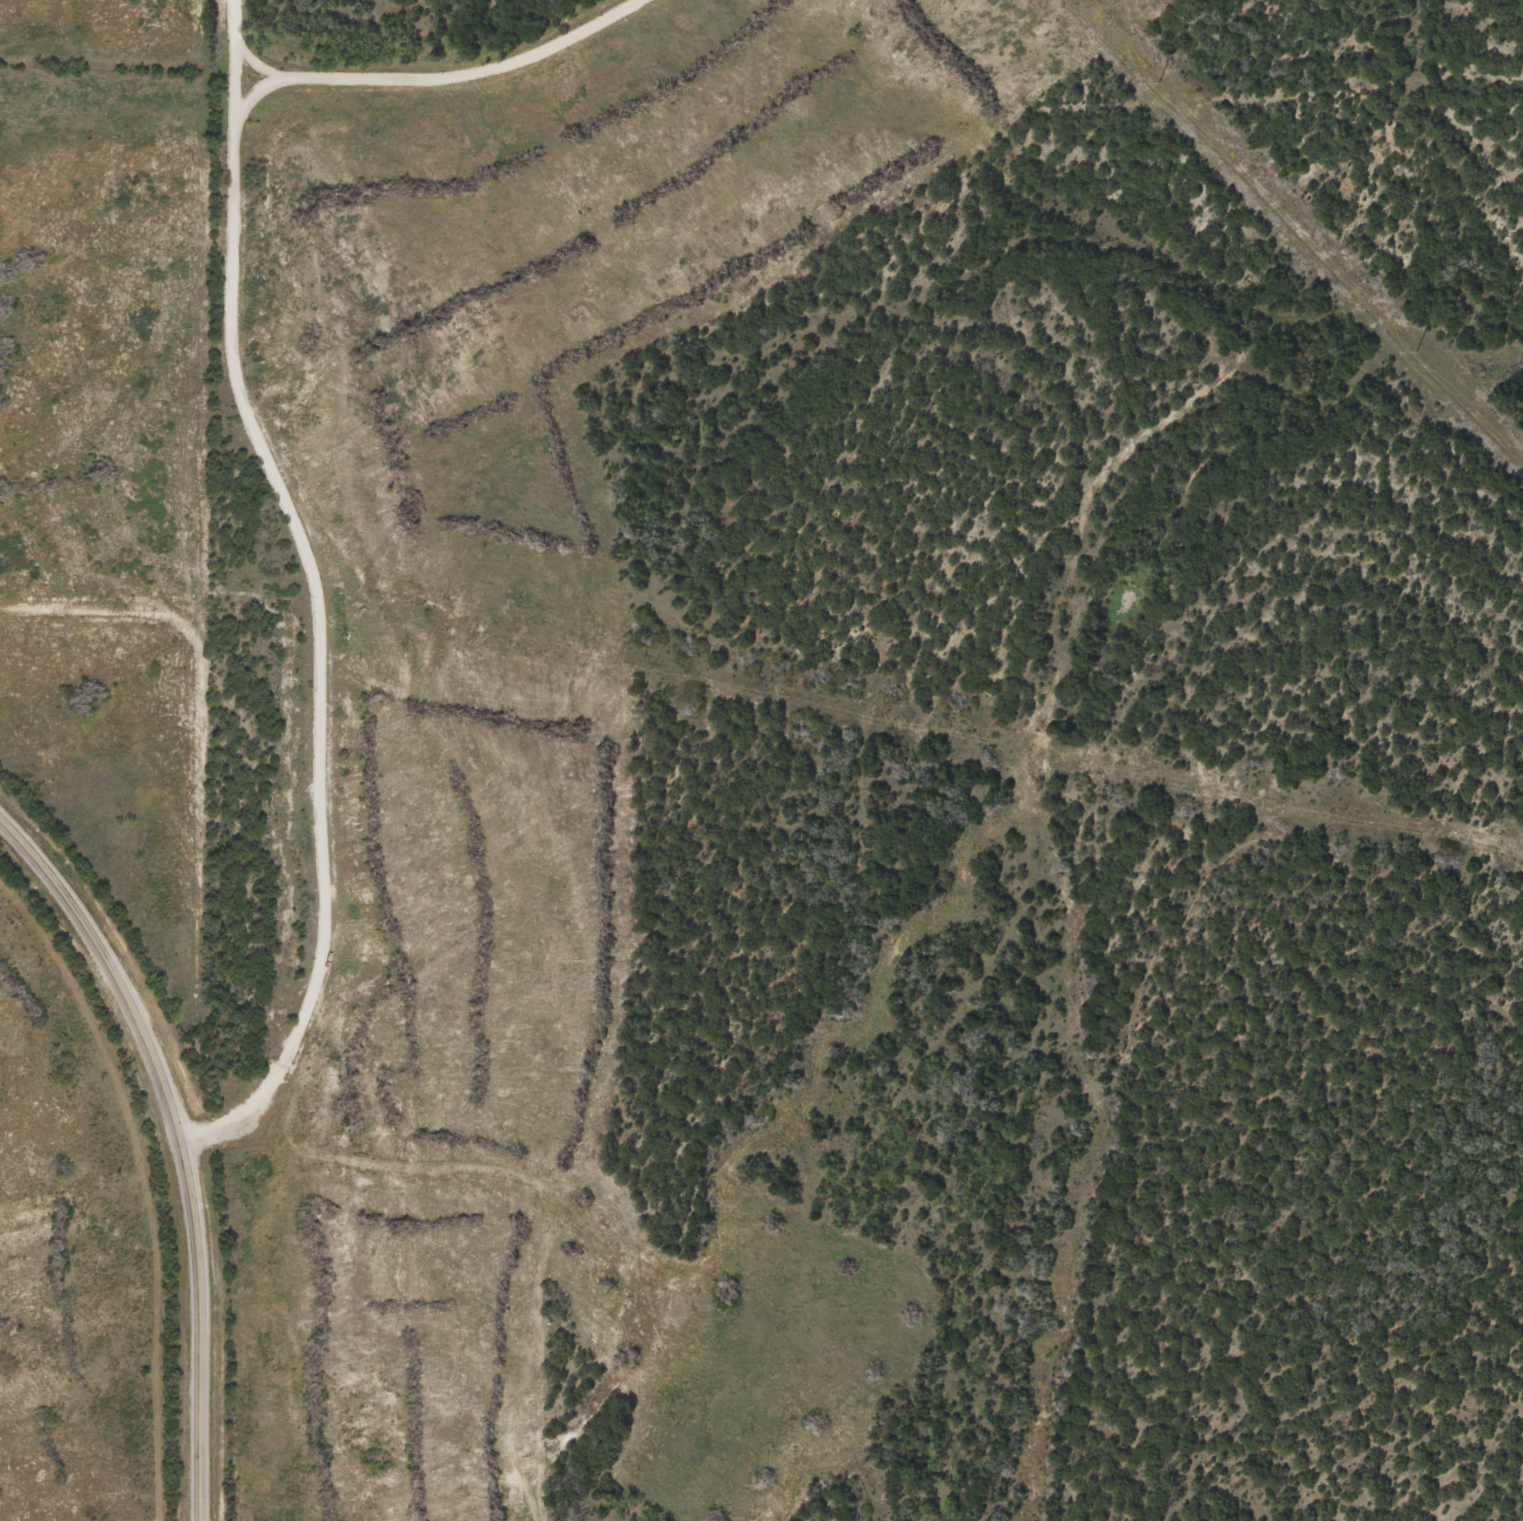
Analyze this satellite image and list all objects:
power tower: (1158, 80)
power tower: (1415, 350)
road: (318, 593)
road: (188, 1141)

